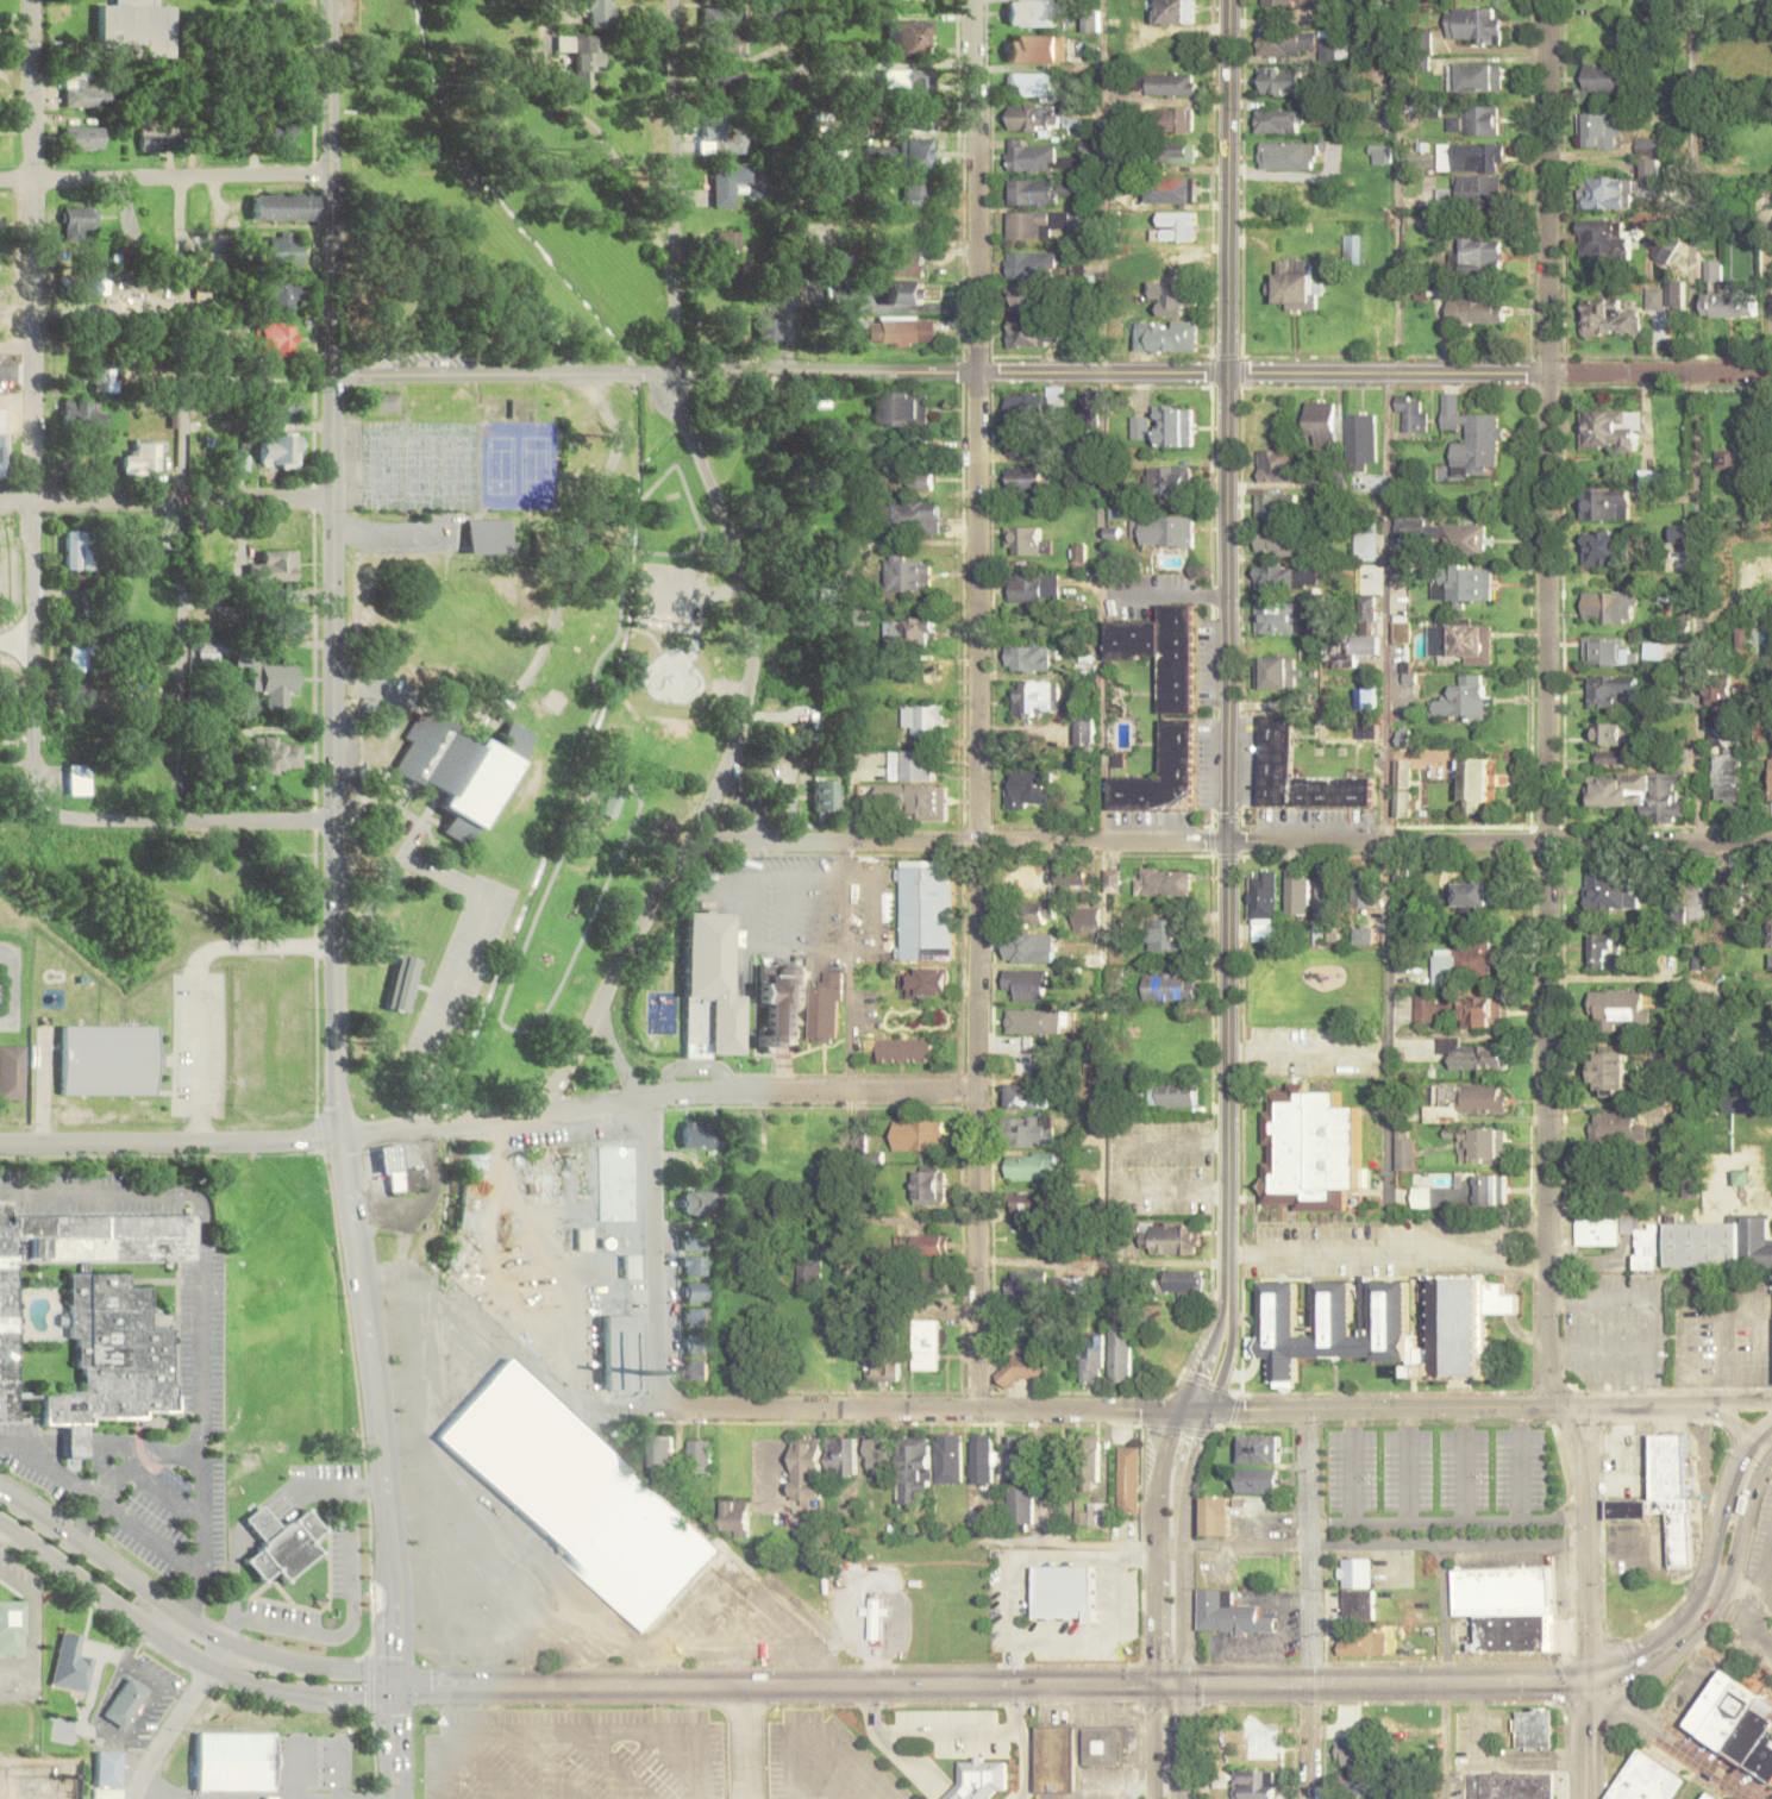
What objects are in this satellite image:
building: (915, 0)
building: (1290, 4)
building: (1175, 11)
building: (599, 12)
building: (1033, 13)
building: (725, 15)
building: (1091, 20)
building: (1473, 24)
building: (136, 29)
building: (912, 40)
building: (1304, 43)
building: (727, 44)
building: (1034, 49)
building: (582, 56)
building: (1474, 76)
building: (1607, 77)
building: (1283, 80)
building: (724, 81)
building: (907, 82)
building: (1032, 83)
building: (1171, 83)
building: (83, 89)
building: (1031, 117)
building: (1171, 119)
building: (1480, 119)
building: (1278, 120)
building: (1608, 128)
building: (158, 136)
building: (282, 136)
building: (721, 137)
building: (83, 138)
building: (1178, 152)
building: (1379, 153)
building: (900, 155)
building: (1288, 155)
building: (1473, 157)
building: (1652, 157)
building: (1040, 158)
road: (165, 178)
building: (731, 182)
road: (791, 187)
building: (1480, 188)
building: (1171, 189)
building: (1040, 190)
building: (915, 192)
building: (1602, 192)
building: (283, 206)
park: (490, 207)
building: (77, 221)
building: (1035, 224)
building: (1176, 226)
building: (1598, 238)
building: (1352, 245)
building: (281, 251)
building: (1665, 251)
building: (730, 252)
building: (1480, 255)
building: (907, 264)
building: (1032, 264)
building: (1182, 265)
building: (1297, 286)
building: (282, 294)
building: (904, 294)
building: (1032, 296)
building: (1667, 296)
building: (1175, 299)
building: (1732, 303)
building: (1474, 309)
building: (1609, 318)
building: (770, 327)
building: (901, 331)
building: (1027, 333)
building: (1167, 337)
building: (277, 338)
building: (104, 371)
road: (1052, 375)
building: (259, 376)
road: (35, 402)
building: (386, 402)
building: (1028, 406)
building: (906, 408)
building: (1089, 408)
building: (284, 412)
building: (1411, 412)
building: (95, 419)
road: (975, 421)
road: (1226, 421)
road: (1386, 421)
road: (1696, 421)
building: (1321, 422)
building: (1175, 426)
building: (1141, 427)
building: (1610, 428)
building: (1471, 437)
building: (1361, 438)
building: (921, 441)
building: (1027, 444)
building: (280, 451)
building: (5, 455)
building: (149, 457)
building: (1722, 458)
building: (242, 463)
building: (1278, 465)
park: (384, 468)
park: (455, 468)
park: (501, 468)
park: (420, 469)
park: (534, 469)
building: (1026, 478)
building: (921, 479)
building: (1171, 481)
road: (333, 489)
road: (187, 500)
road: (167, 503)
building: (1277, 507)
building: (916, 516)
road: (725, 519)
building: (1165, 529)
building: (1449, 535)
building: (205, 537)
building: (490, 537)
parking lot: (419, 538)
road: (581, 540)
building: (1031, 540)
building: (1283, 543)
building: (1366, 543)
building: (1602, 547)
building: (79, 550)
building: (144, 552)
building: (1079, 556)
building: (274, 565)
building: (909, 573)
building: (1282, 577)
building: (1466, 584)
building: (1034, 587)
building: (1609, 607)
building: (1281, 616)
building: (281, 621)
parking lot: (670, 629)
building: (910, 631)
building: (1403, 631)
road: (1102, 632)
building: (1353, 633)
building: (1742, 637)
building: (804, 639)
building: (1463, 640)
building: (213, 648)
building: (1609, 650)
building: (77, 656)
building: (1028, 658)
building: (1279, 672)
building: (269, 679)
building: (919, 679)
building: (1614, 690)
building: (1366, 696)
building: (1035, 697)
building: (83, 698)
building: (1464, 700)
road: (1548, 703)
building: (1161, 707)
park: (516, 712)
building: (925, 720)
building: (1365, 727)
building: (812, 733)
building: (1087, 733)
building: (1610, 733)
building: (1276, 744)
building: (276, 756)
building: (1616, 757)
building: (458, 765)
building: (912, 765)
building: (1728, 775)
building: (80, 779)
building: (1770, 781)
building: (1476, 784)
building: (1029, 788)
building: (1402, 788)
building: (1639, 794)
building: (826, 798)
building: (929, 802)
building: (613, 804)
road: (747, 813)
road: (182, 821)
road: (734, 841)
road: (1004, 842)
road: (1659, 844)
road: (1386, 845)
building: (1069, 875)
building: (1163, 882)
building: (1365, 888)
building: (1298, 891)
building: (1329, 891)
building: (1613, 891)
road: (843, 895)
building: (1473, 895)
building: (1263, 902)
parking lot: (807, 908)
building: (925, 910)
road: (788, 911)
road: (824, 911)
building: (1035, 914)
building: (1770, 932)
building: (1167, 933)
road: (871, 947)
building: (1028, 947)
building: (1605, 952)
building: (1090, 954)
building: (1771, 960)
building: (1463, 964)
parking lot: (464, 969)
building: (925, 983)
building: (1027, 983)
road: (199, 984)
building: (1167, 986)
building: (708, 989)
building: (781, 1001)
building: (825, 1008)
road: (502, 1009)
parking lot: (865, 1010)
building: (1620, 1010)
building: (1458, 1011)
road: (849, 1020)
building: (1031, 1021)
parking lot: (199, 1043)
building: (906, 1051)
road: (618, 1054)
road: (575, 1057)
building: (1478, 1057)
road: (334, 1058)
building: (107, 1059)
road: (696, 1067)
road: (1227, 1071)
building: (1609, 1071)
building: (11, 1072)
road: (764, 1092)
building: (1172, 1095)
building: (1026, 1096)
building: (1470, 1097)
road: (445, 1124)
building: (1616, 1126)
road: (975, 1127)
building: (1029, 1132)
building: (919, 1134)
building: (697, 1135)
traffic signals: (336, 1139)
road: (168, 1143)
building: (1486, 1143)
building: (1311, 1148)
building: (1029, 1166)
building: (1609, 1168)
building: (399, 1170)
building: (929, 1185)
building: (1492, 1189)
building: (472, 1195)
building: (1441, 1196)
building: (705, 1202)
building: (1031, 1203)
building: (1171, 1237)
building: (1597, 1237)
building: (586, 1239)
building: (696, 1241)
building: (1758, 1242)
building: (931, 1243)
building: (1704, 1245)
road: (656, 1252)
road: (1102, 1265)
building: (632, 1266)
building: (696, 1266)
building: (809, 1274)
building: (934, 1279)
building: (1183, 1283)
building: (1025, 1284)
building: (547, 1297)
building: (696, 1306)
road: (200, 1311)
building: (507, 1320)
building: (1384, 1327)
building: (8, 1339)
building: (928, 1343)
building: (697, 1344)
park: (1169, 1346)
building: (619, 1350)
building: (113, 1352)
building: (1120, 1354)
road: (1202, 1354)
road: (1227, 1355)
building: (1091, 1356)
building: (882, 1368)
building: (696, 1369)
road: (1734, 1403)
road: (1635, 1408)
road: (1376, 1409)
road: (626, 1410)
road: (919, 1410)
traffic signals: (1178, 1410)
traffic signals: (1209, 1410)
road: (378, 1412)
road: (1733, 1429)
building: (1261, 1448)
building: (662, 1454)
building: (843, 1454)
building: (701, 1455)
building: (879, 1456)
building: (1019, 1456)
building: (914, 1458)
building: (948, 1458)
building: (1090, 1458)
building: (983, 1459)
road: (1523, 1461)
road: (1413, 1462)
road: (1467, 1462)
road: (1357, 1463)
building: (807, 1469)
road: (1578, 1475)
parking lot: (1440, 1477)
building: (1128, 1479)
building: (1261, 1480)
road: (1726, 1490)
building: (578, 1496)
building: (1663, 1497)
road: (104, 1500)
building: (1020, 1505)
building: (1100, 1513)
road: (1742, 1513)
building: (1216, 1515)
building: (737, 1517)
road: (2, 1530)
road: (1182, 1544)
road: (1151, 1546)
road: (1382, 1546)
building: (287, 1548)
building: (841, 1568)
building: (1354, 1572)
road: (1716, 1577)
building: (1065, 1592)
building: (1357, 1601)
road: (1308, 1605)
building: (1505, 1607)
building: (1228, 1613)
building: (874, 1616)
road: (159, 1622)
road: (184, 1622)
building: (11, 1626)
road: (32, 1636)
building: (1360, 1642)
road: (133, 1643)
road: (182, 1654)
building: (71, 1663)
road: (1730, 1668)
road: (157, 1684)
traffic signals: (1182, 1685)
road: (939, 1686)
traffic signals: (1154, 1686)
traffic signals: (399, 1688)
building: (127, 1701)
road: (179, 1720)
building: (1736, 1723)
building: (1530, 1729)
road: (570, 1731)
road: (105, 1732)
road: (815, 1734)
road: (733, 1742)
road: (1154, 1742)
road: (1181, 1742)
road: (142, 1743)
road: (399, 1743)
road: (752, 1743)
building: (1101, 1745)
building: (1355, 1753)
parking lot: (580, 1754)
road: (1599, 1756)
building: (1056, 1757)
building: (236, 1760)
parking lot: (822, 1760)
road: (1691, 1762)
road: (614, 1764)
road: (550, 1766)
parking lot: (317, 1767)
building: (108, 1768)
road: (302, 1768)
road: (344, 1769)
road: (488, 1772)
road: (834, 1776)
building: (981, 1779)
building: (1647, 1780)
building: (1254, 1782)
building: (1363, 1785)
building: (1510, 1785)
road: (161, 1792)
building: (1711, 1797)

